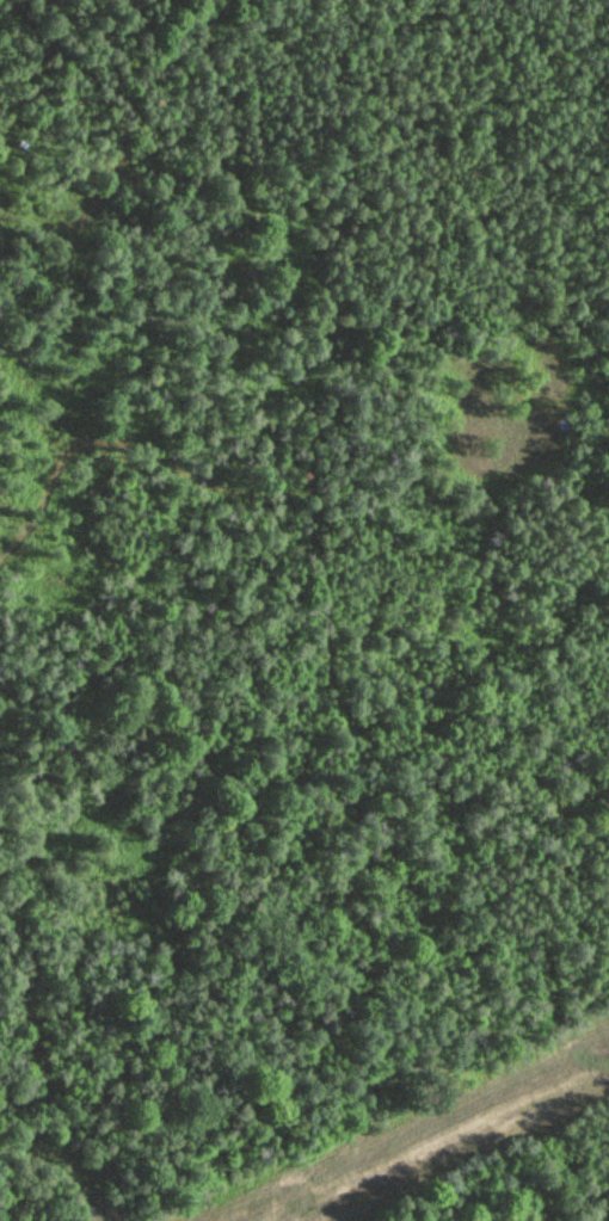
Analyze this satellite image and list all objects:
road: (472, 1159)

